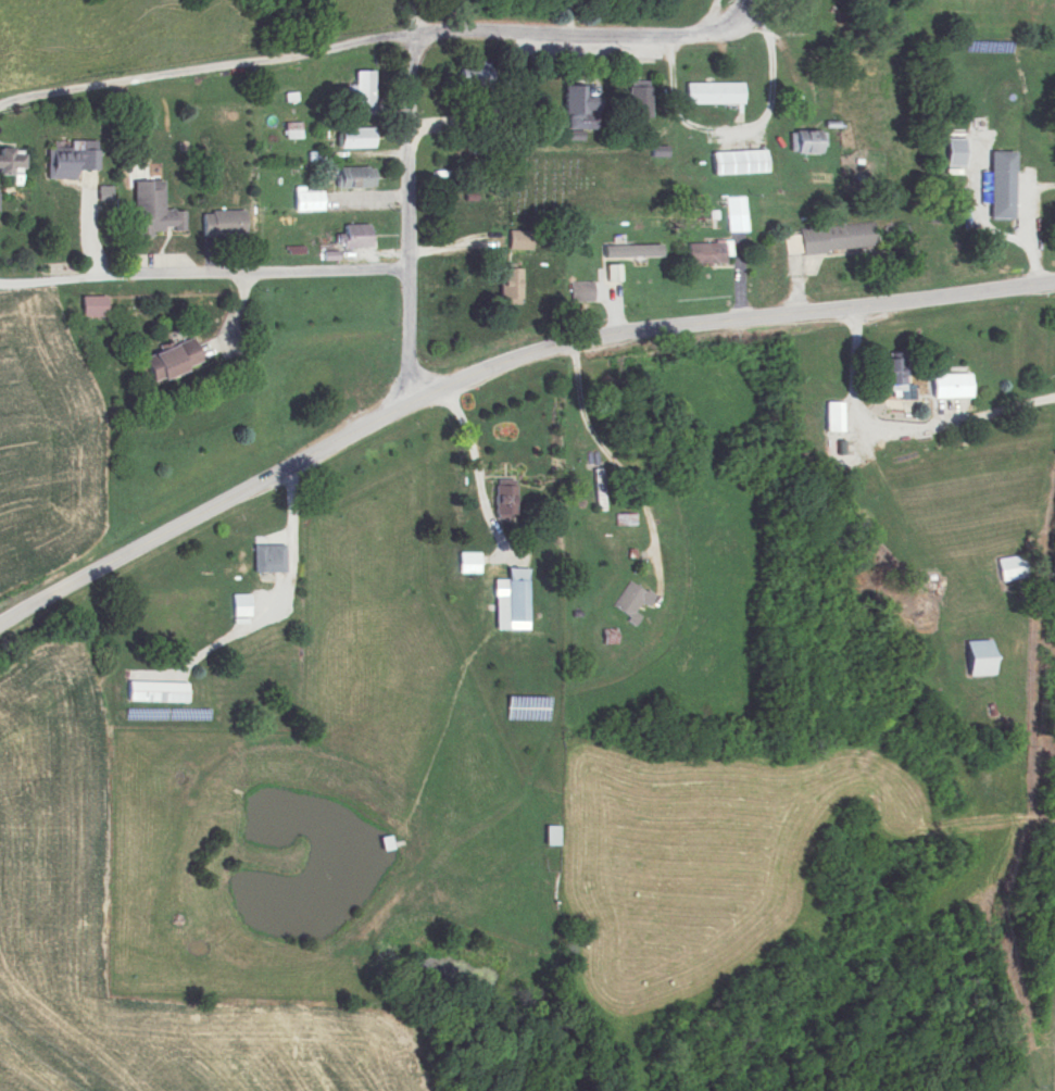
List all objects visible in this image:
road: (956, 12)
road: (409, 18)
road: (731, 27)
road: (392, 37)
building: (470, 79)
building: (359, 90)
road: (42, 93)
building: (712, 93)
building: (791, 102)
building: (637, 104)
building: (579, 109)
building: (498, 115)
road: (759, 116)
building: (353, 138)
building: (804, 143)
building: (956, 152)
building: (72, 160)
building: (736, 163)
building: (12, 166)
building: (352, 177)
building: (999, 185)
park: (575, 188)
building: (305, 201)
building: (155, 210)
building: (734, 214)
road: (407, 220)
building: (221, 223)
road: (1029, 223)
building: (353, 236)
building: (833, 238)
building: (517, 240)
road: (454, 247)
building: (631, 251)
building: (703, 253)
building: (614, 273)
road: (5, 280)
road: (210, 281)
building: (506, 287)
building: (95, 305)
building: (167, 363)
road: (494, 364)
building: (888, 373)
building: (947, 387)
building: (829, 417)
road: (908, 421)
road: (467, 437)
road: (604, 447)
building: (598, 490)
building: (502, 500)
building: (629, 519)
road: (293, 525)
building: (267, 559)
building: (467, 563)
building: (1012, 567)
building: (630, 601)
building: (512, 602)
building: (239, 605)
building: (975, 657)
building: (152, 691)

